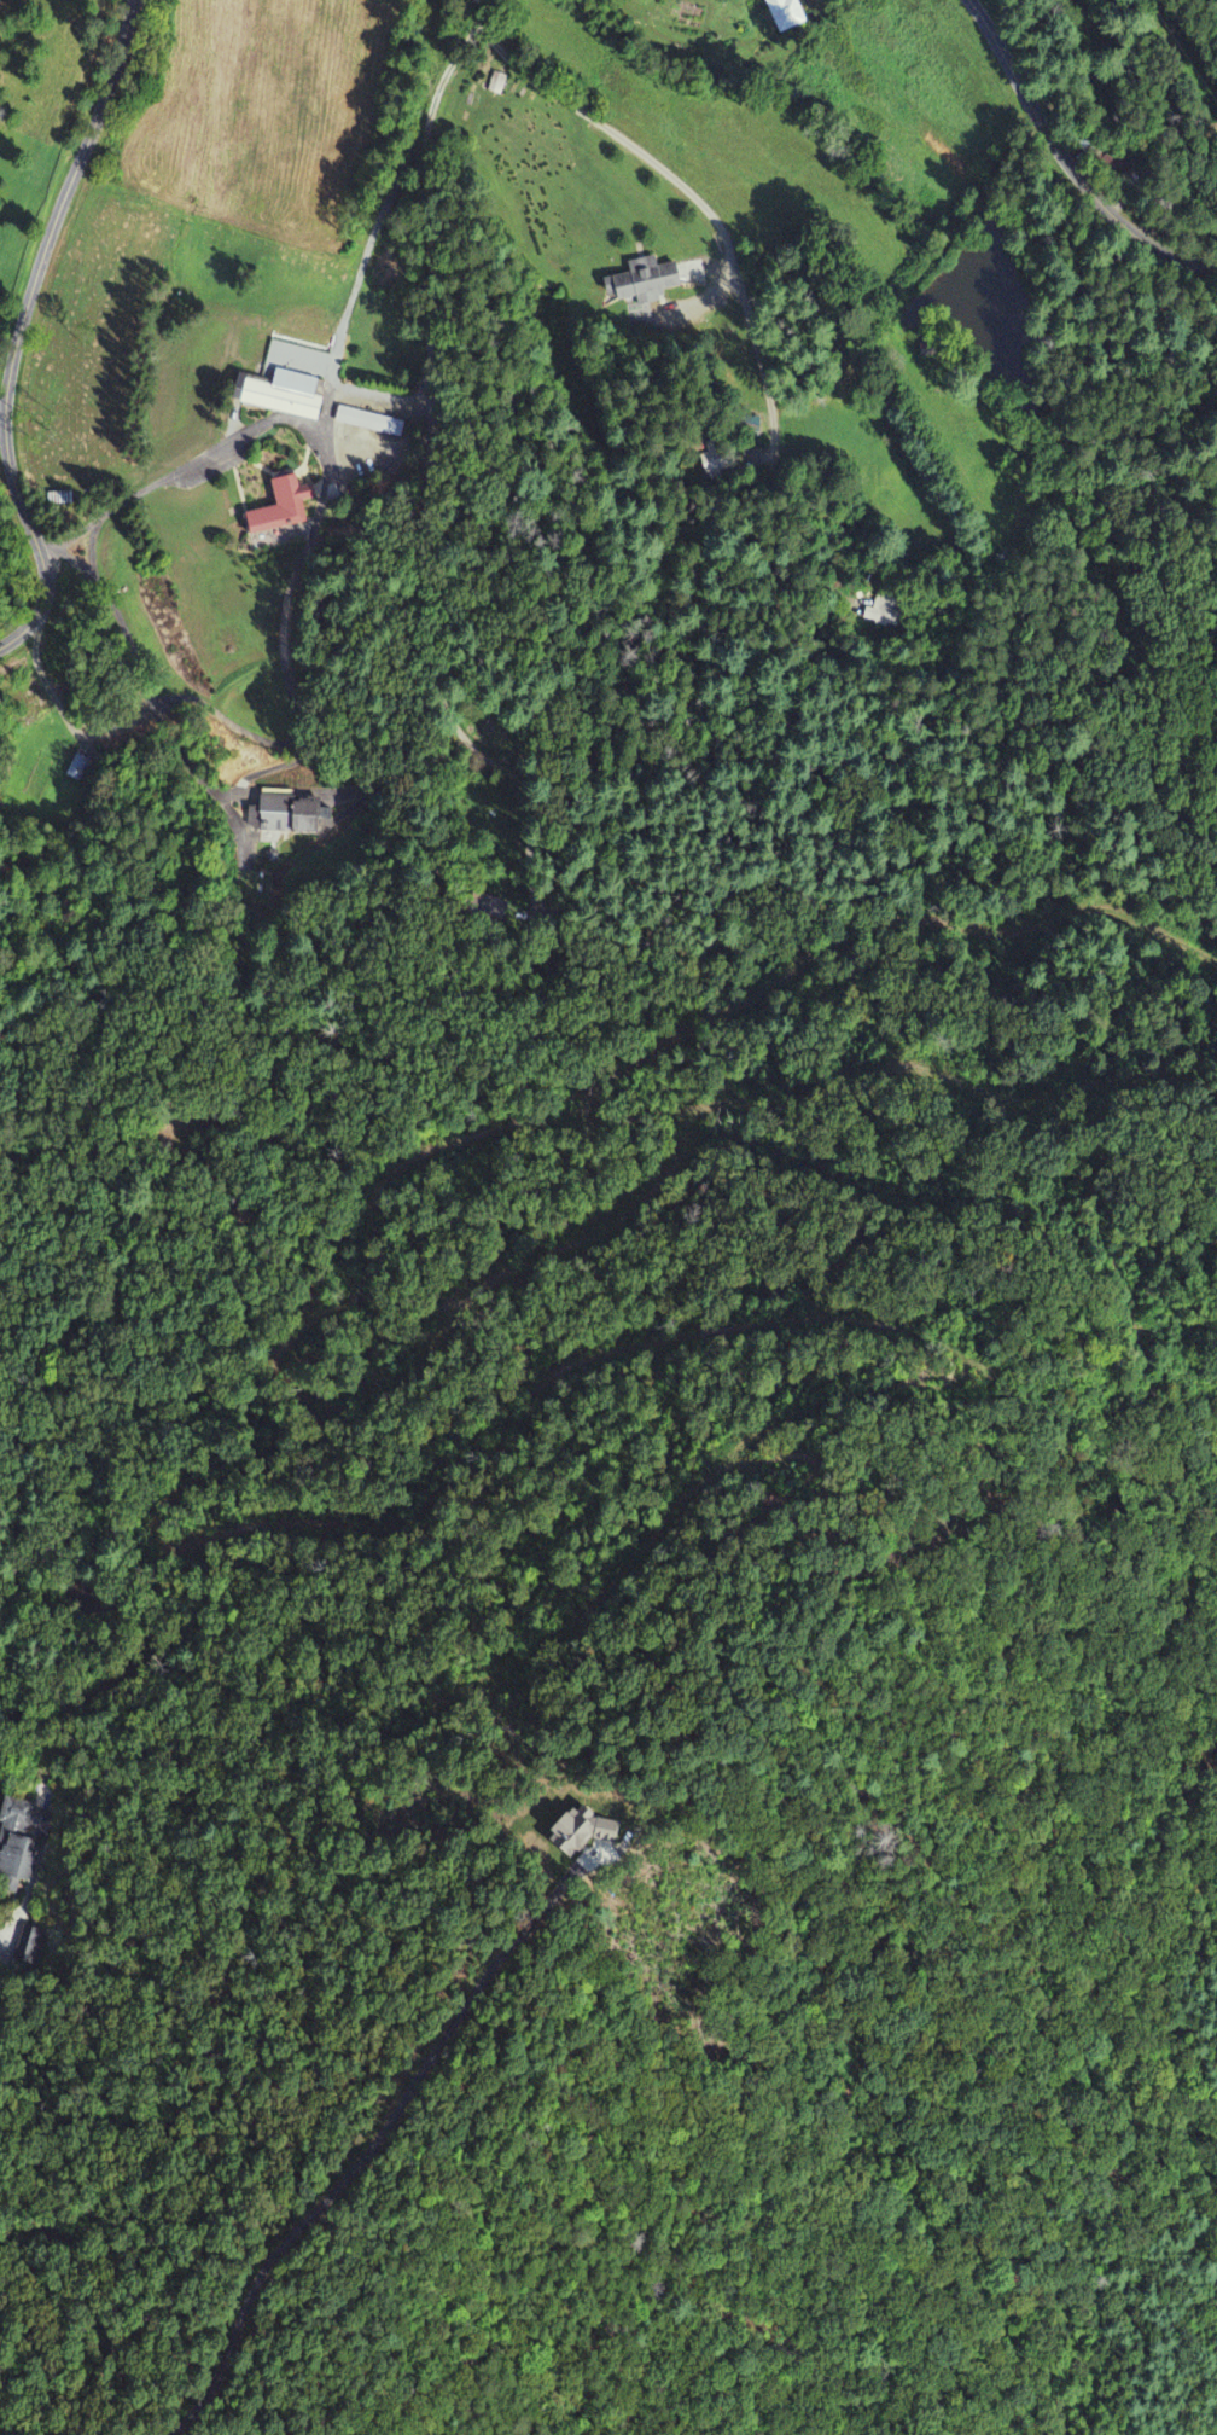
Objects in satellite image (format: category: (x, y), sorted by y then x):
building: (782, 14)
building: (496, 83)
road: (606, 126)
road: (1070, 156)
road: (22, 326)
building: (278, 394)
building: (368, 422)
building: (279, 507)
building: (272, 814)
building: (238, 823)
building: (571, 1829)
building: (16, 1848)

